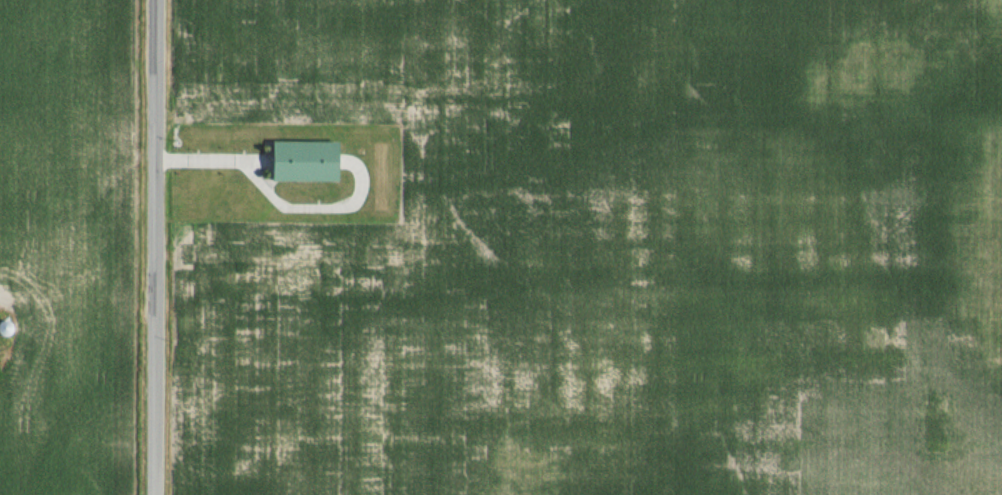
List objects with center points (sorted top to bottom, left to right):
building: (307, 159)
road: (152, 247)
building: (4, 327)

